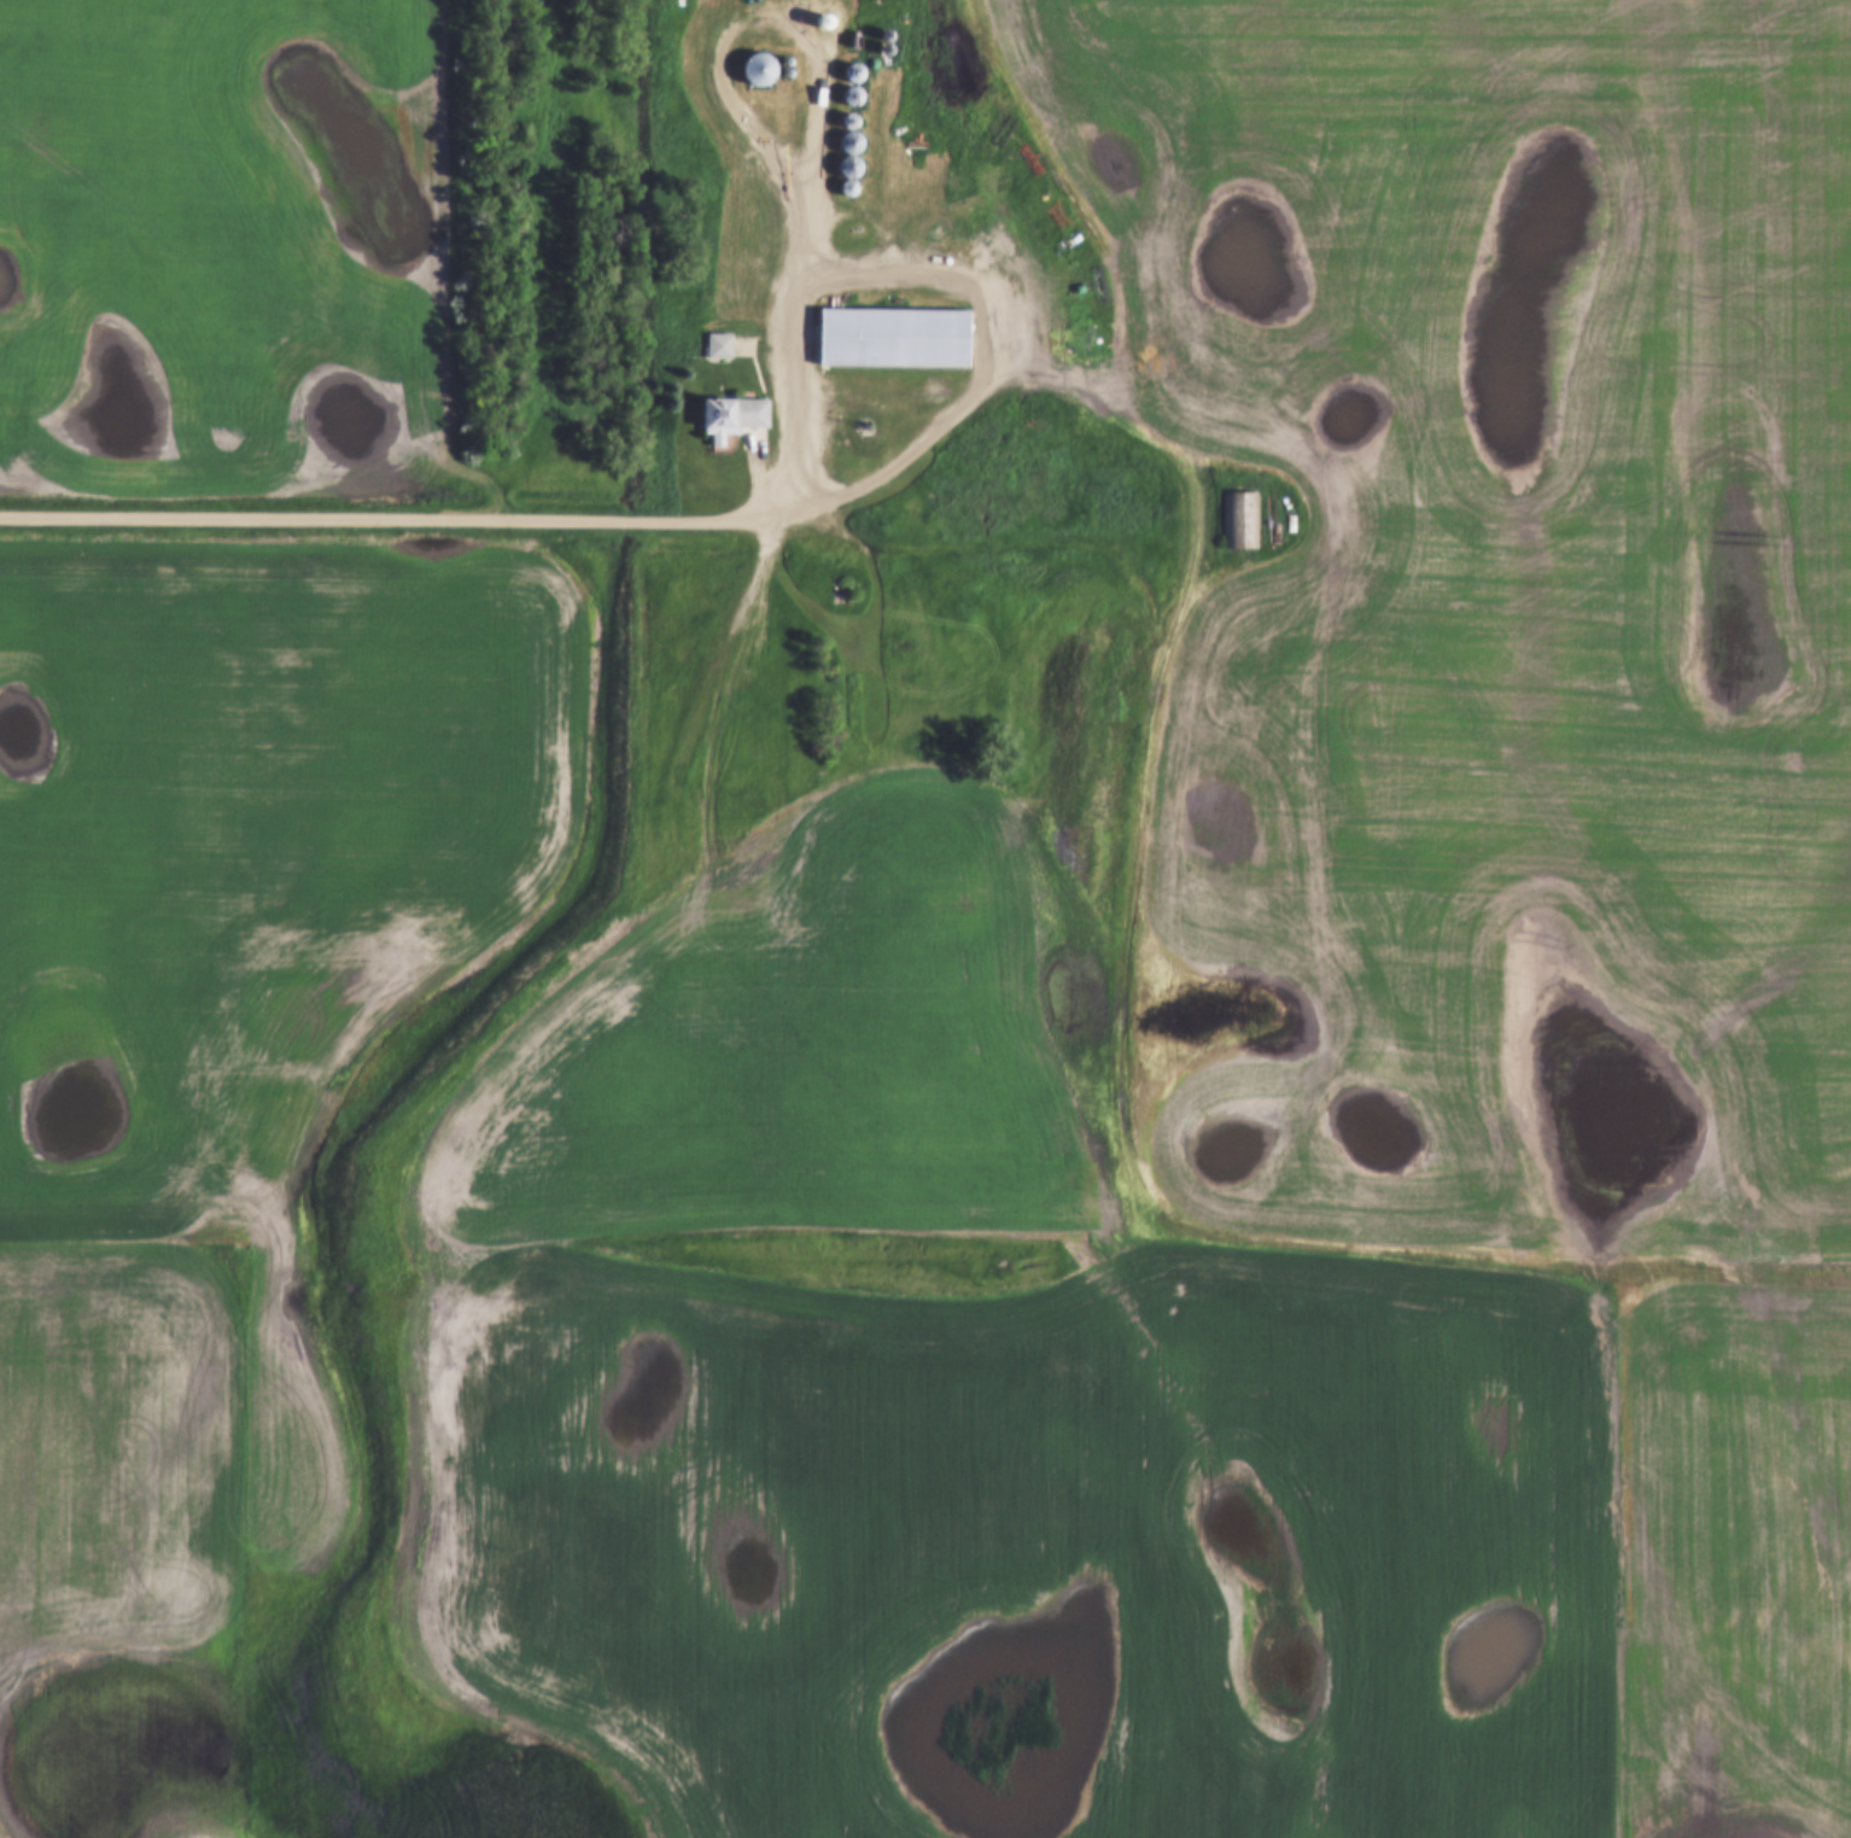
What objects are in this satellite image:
building: (757, 72)
road: (878, 135)
road: (802, 272)
building: (889, 339)
building: (735, 422)
building: (1228, 517)
road: (666, 523)
building: (1246, 523)
road: (1156, 611)
road: (654, 875)

